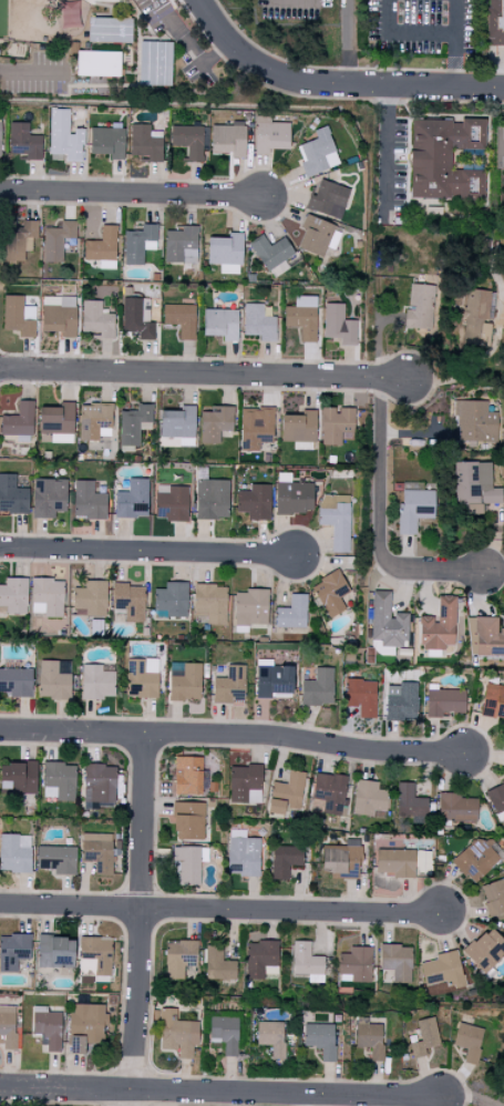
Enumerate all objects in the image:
road: (282, 0)
building: (69, 14)
road: (456, 17)
building: (494, 22)
building: (109, 30)
road: (405, 33)
road: (347, 42)
road: (191, 48)
road: (457, 61)
building: (97, 63)
building: (154, 64)
road: (32, 75)
road: (335, 83)
building: (0, 132)
building: (269, 135)
building: (63, 136)
building: (227, 140)
building: (187, 141)
building: (23, 142)
building: (106, 142)
building: (143, 143)
road: (501, 149)
road: (383, 150)
building: (317, 153)
building: (441, 156)
road: (134, 194)
building: (327, 199)
building: (317, 236)
building: (18, 240)
building: (55, 240)
building: (138, 244)
building: (181, 245)
building: (102, 248)
building: (225, 253)
building: (271, 256)
building: (28, 313)
building: (58, 315)
building: (475, 316)
building: (16, 317)
building: (301, 317)
building: (135, 319)
building: (179, 319)
building: (96, 320)
building: (257, 322)
building: (220, 324)
building: (338, 325)
road: (381, 351)
road: (475, 368)
road: (204, 373)
building: (18, 421)
building: (55, 421)
building: (94, 422)
building: (474, 422)
building: (177, 423)
building: (215, 423)
building: (133, 424)
building: (336, 426)
building: (255, 428)
building: (298, 430)
building: (291, 495)
building: (12, 496)
building: (48, 498)
building: (210, 499)
building: (132, 500)
building: (88, 502)
building: (254, 502)
building: (171, 503)
building: (413, 509)
building: (336, 520)
road: (381, 522)
road: (147, 551)
building: (330, 593)
building: (13, 596)
building: (47, 597)
building: (90, 600)
building: (172, 600)
building: (127, 602)
building: (209, 603)
building: (249, 610)
building: (291, 613)
building: (387, 622)
building: (438, 625)
building: (485, 637)
building: (141, 678)
building: (272, 680)
building: (52, 682)
building: (96, 682)
building: (16, 683)
building: (185, 684)
building: (229, 686)
building: (317, 688)
building: (360, 697)
building: (493, 700)
building: (399, 702)
building: (443, 702)
road: (232, 736)
building: (187, 776)
building: (18, 778)
building: (244, 785)
building: (99, 787)
building: (285, 793)
building: (329, 793)
building: (495, 798)
building: (369, 800)
building: (409, 801)
building: (455, 808)
building: (187, 821)
building: (97, 852)
building: (14, 853)
building: (241, 854)
building: (55, 860)
building: (340, 860)
building: (474, 860)
building: (284, 861)
building: (402, 862)
building: (186, 867)
building: (493, 897)
road: (220, 909)
road: (141, 919)
building: (13, 951)
building: (485, 951)
building: (54, 952)
building: (94, 956)
building: (178, 957)
building: (260, 960)
building: (305, 960)
building: (395, 962)
building: (217, 964)
building: (356, 964)
building: (443, 970)
building: (7, 1026)
building: (85, 1026)
building: (47, 1027)
building: (176, 1034)
building: (224, 1034)
building: (270, 1037)
building: (423, 1037)
building: (320, 1040)
building: (370, 1040)
building: (467, 1041)
road: (220, 1093)
road: (466, 1097)
road: (320, 1100)

